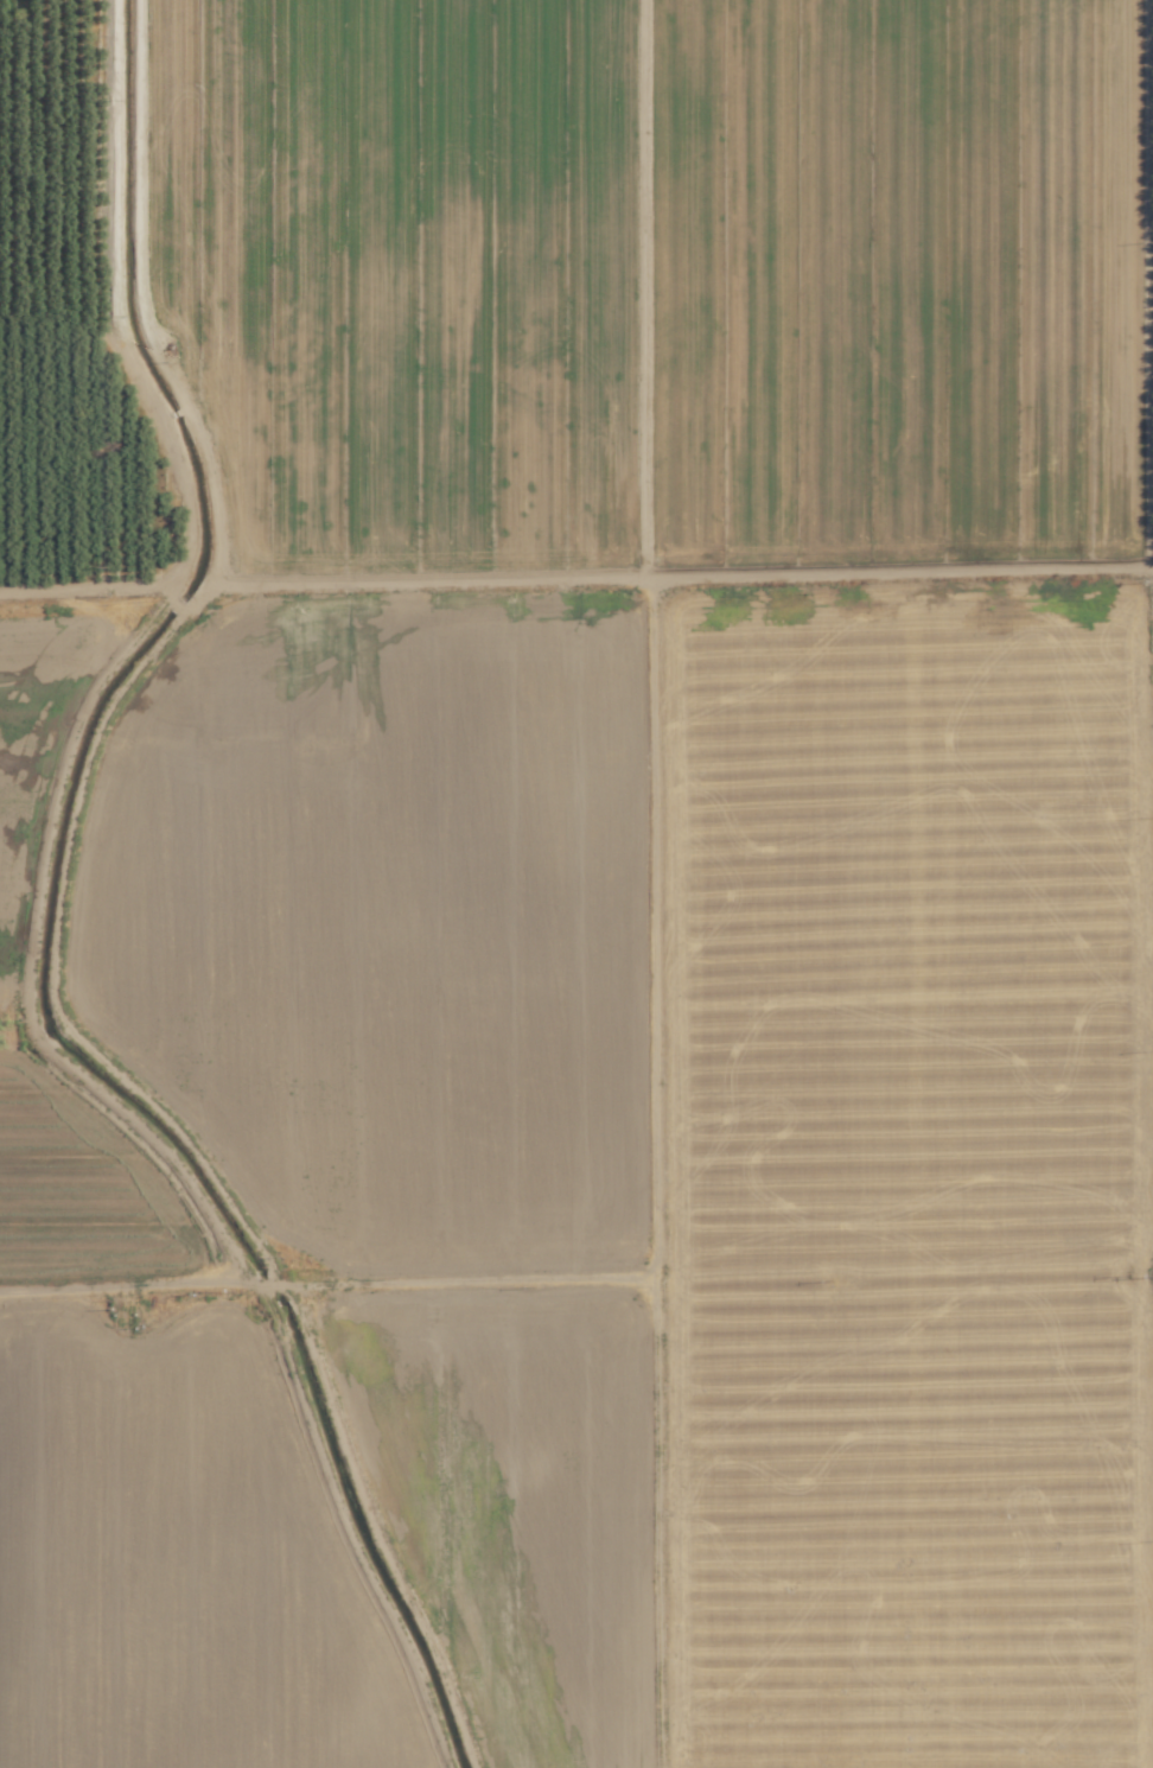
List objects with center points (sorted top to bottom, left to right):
road: (108, 1279)

